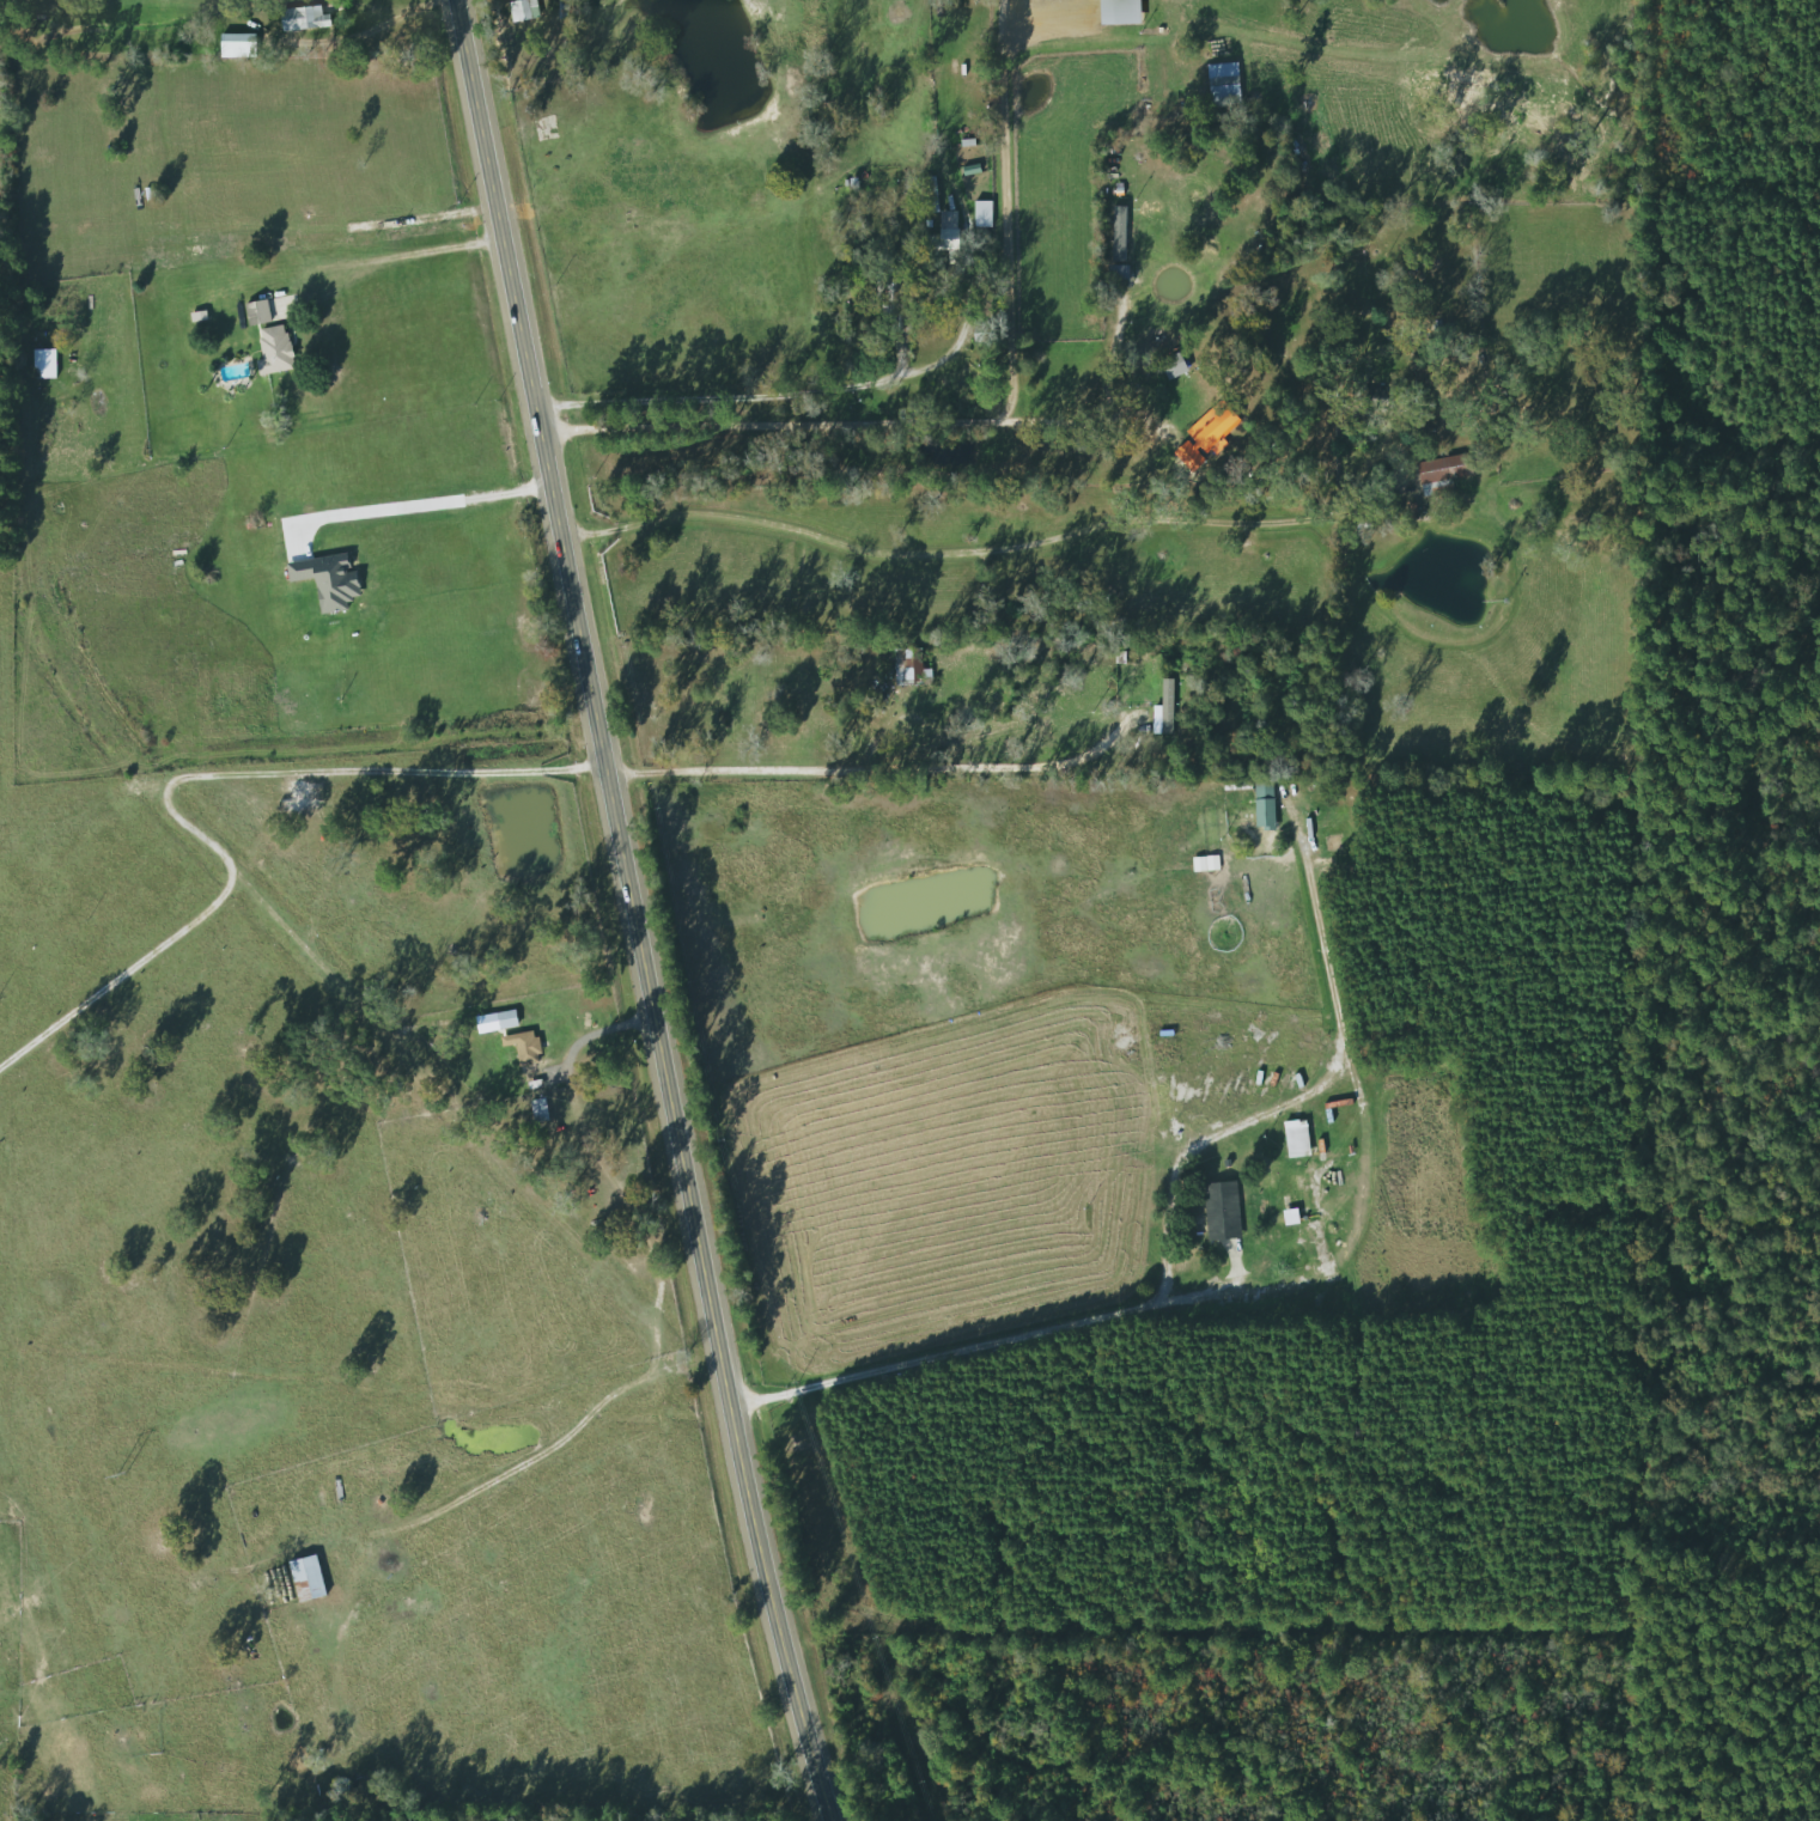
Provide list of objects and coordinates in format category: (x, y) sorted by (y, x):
building: (523, 10)
building: (1116, 12)
building: (300, 19)
road: (364, 32)
building: (235, 45)
building: (1222, 84)
building: (926, 195)
building: (942, 233)
road: (406, 254)
building: (891, 297)
building: (255, 312)
building: (272, 351)
building: (47, 364)
road: (820, 391)
building: (1361, 398)
road: (980, 418)
road: (1077, 430)
building: (1204, 434)
building: (1439, 474)
road: (452, 517)
road: (999, 546)
building: (911, 665)
building: (1169, 665)
road: (178, 742)
road: (883, 773)
building: (1262, 805)
road: (632, 913)
building: (504, 1019)
building: (524, 1047)
building: (1243, 1085)
road: (1310, 1090)
building: (537, 1110)
building: (1295, 1138)
road: (1371, 1169)
building: (1219, 1210)
road: (1022, 1334)
road: (550, 1447)
power tower: (117, 1474)
building: (304, 1578)

